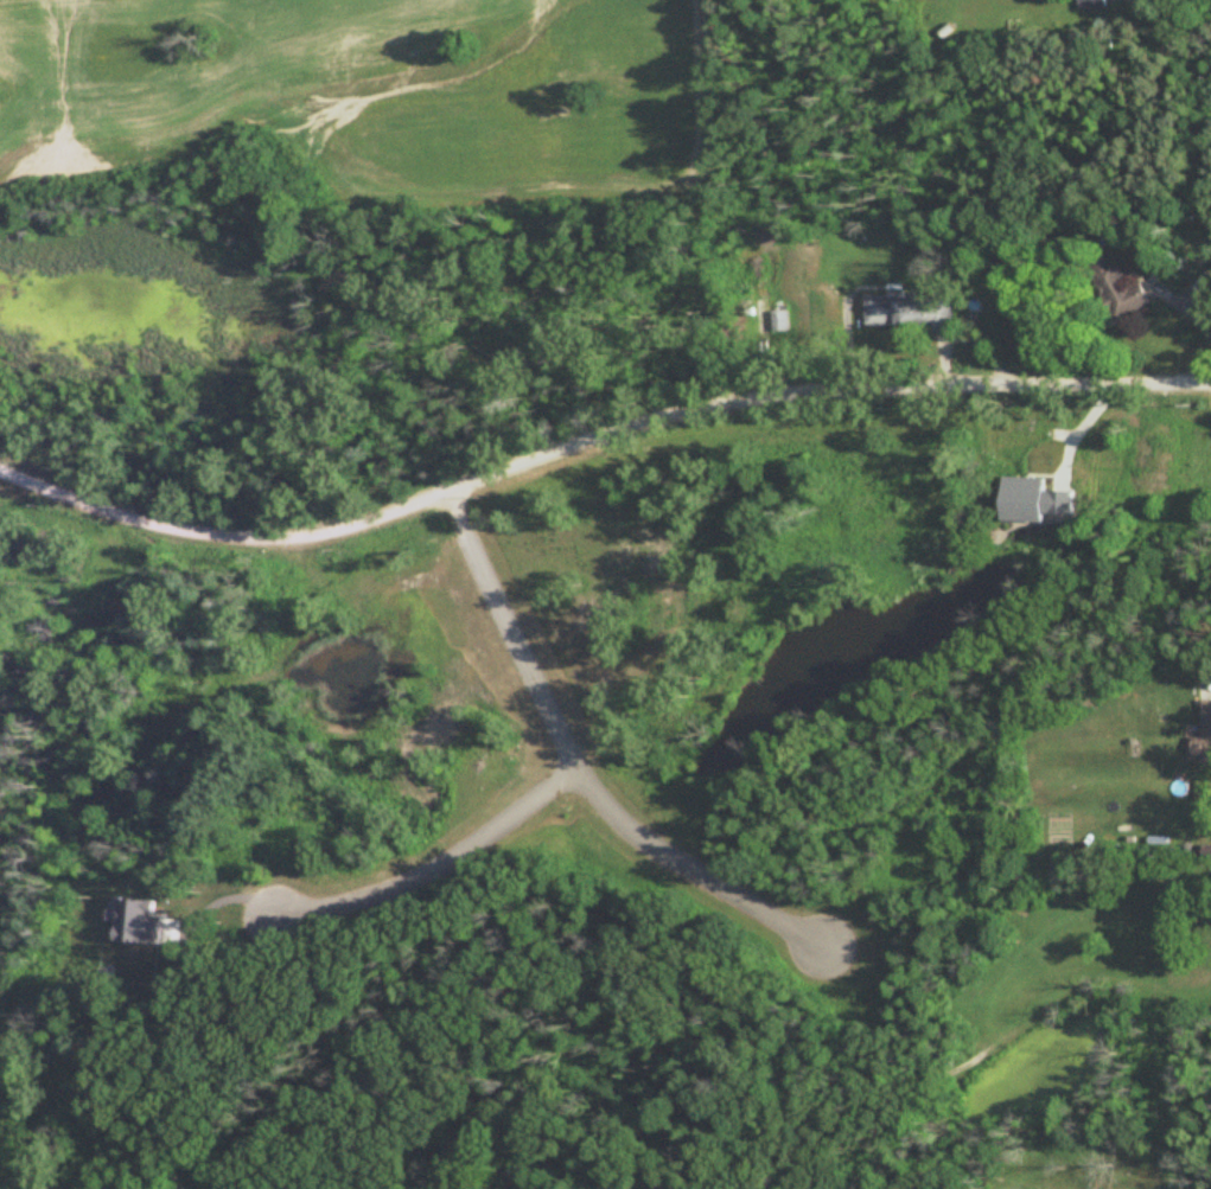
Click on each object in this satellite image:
building: (1092, 4)
building: (1115, 288)
building: (906, 315)
road: (595, 437)
building: (1204, 731)
road: (574, 767)
road: (436, 863)

